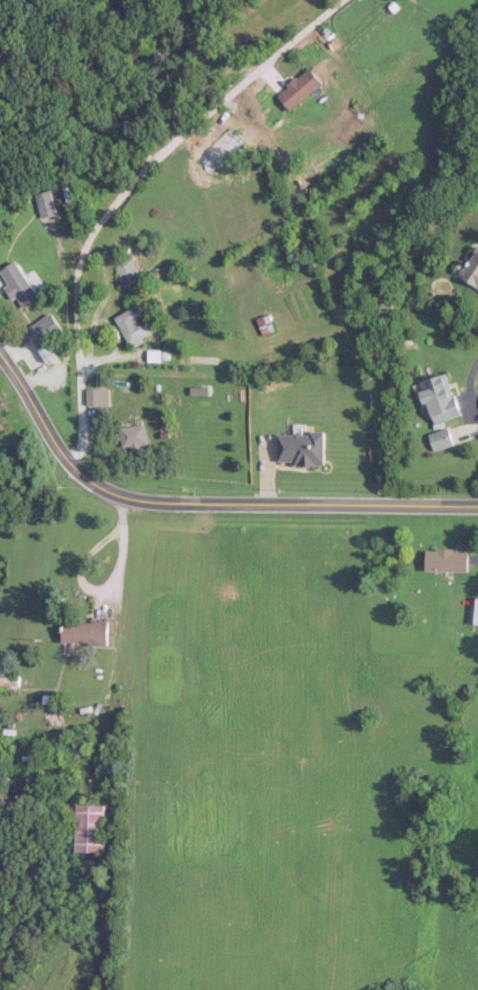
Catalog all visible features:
building: (295, 89)
building: (220, 150)
road: (124, 191)
building: (45, 204)
building: (124, 268)
building: (470, 269)
building: (17, 285)
building: (133, 324)
building: (42, 335)
building: (201, 359)
building: (91, 396)
building: (437, 397)
building: (129, 435)
building: (438, 438)
building: (297, 448)
road: (207, 500)
building: (442, 560)
road: (79, 567)
building: (474, 611)
building: (81, 630)
road: (114, 641)
road: (98, 747)
building: (87, 827)

